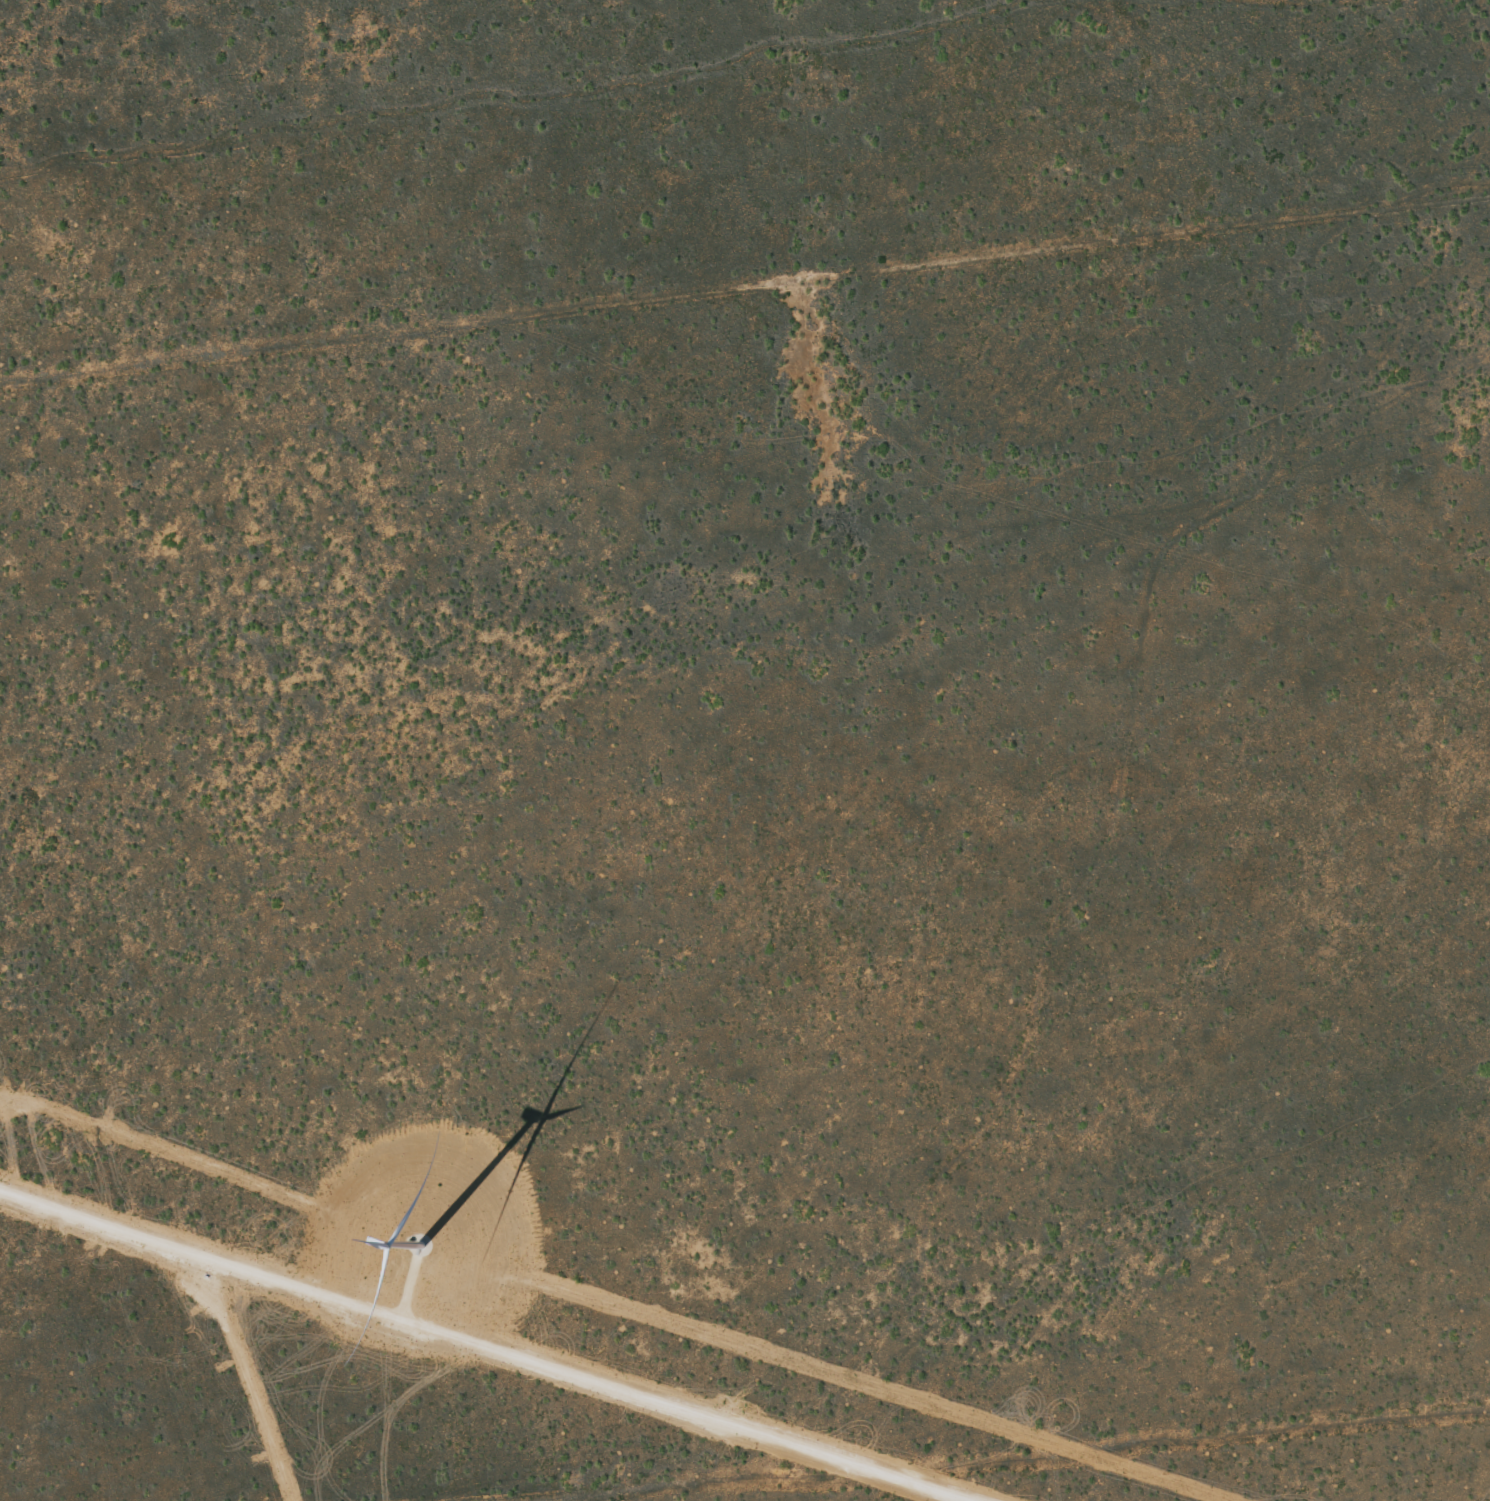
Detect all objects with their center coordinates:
wind turbine: (407, 1240)

